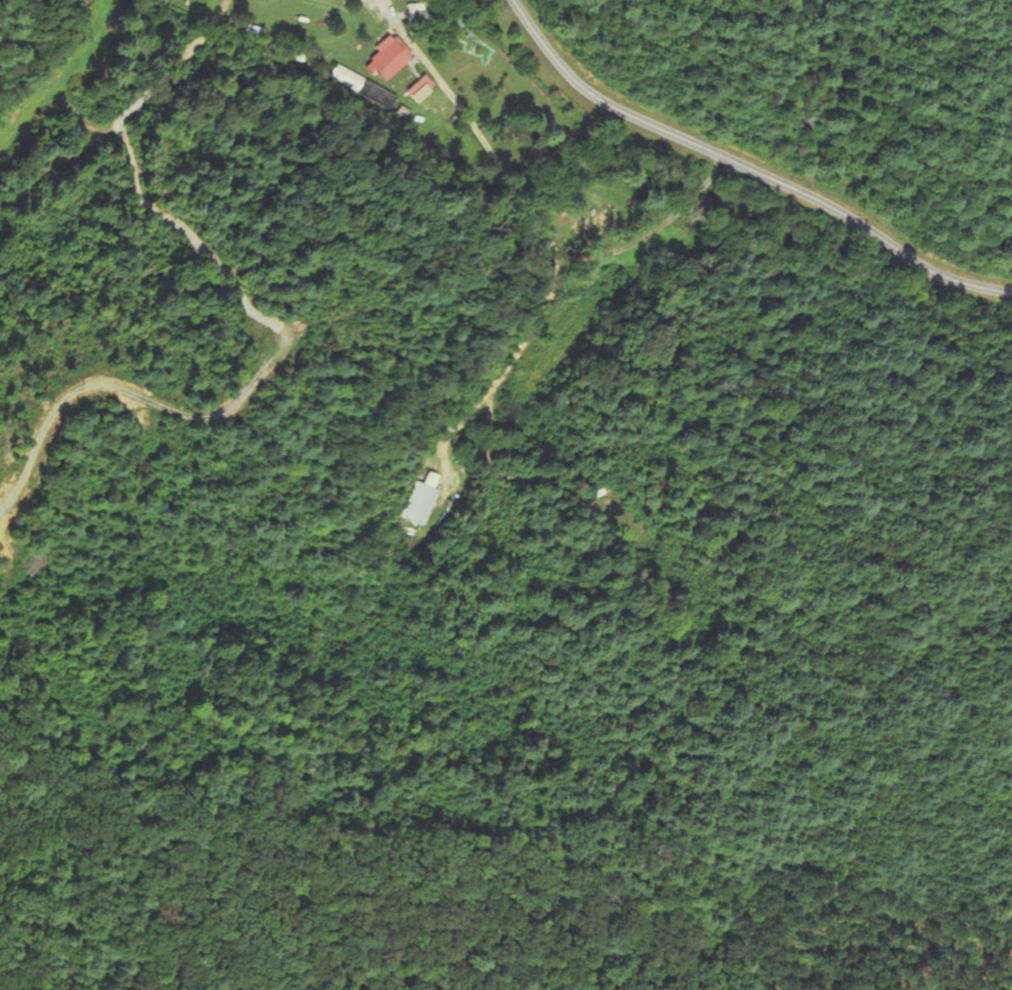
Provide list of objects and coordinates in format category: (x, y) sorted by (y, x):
building: (390, 57)
building: (423, 87)
road: (747, 165)
building: (423, 500)

